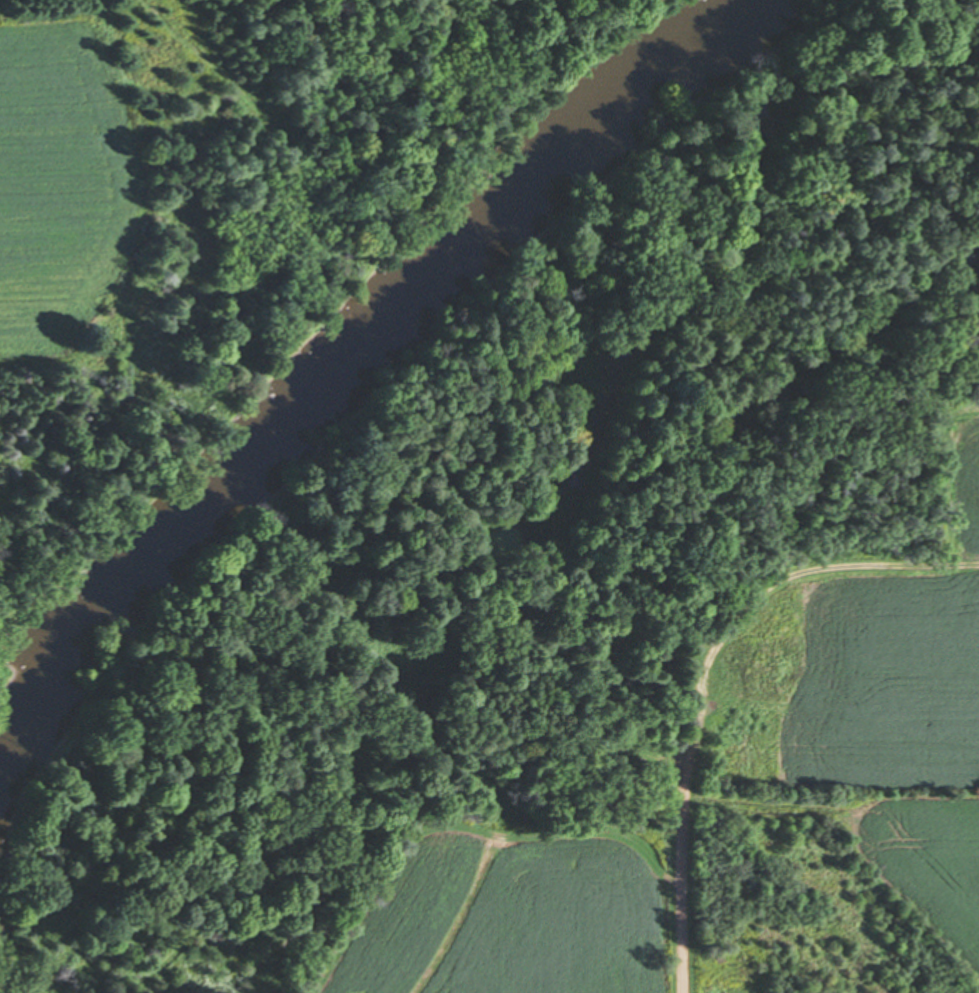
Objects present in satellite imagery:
river: (355, 324)
road: (686, 874)

